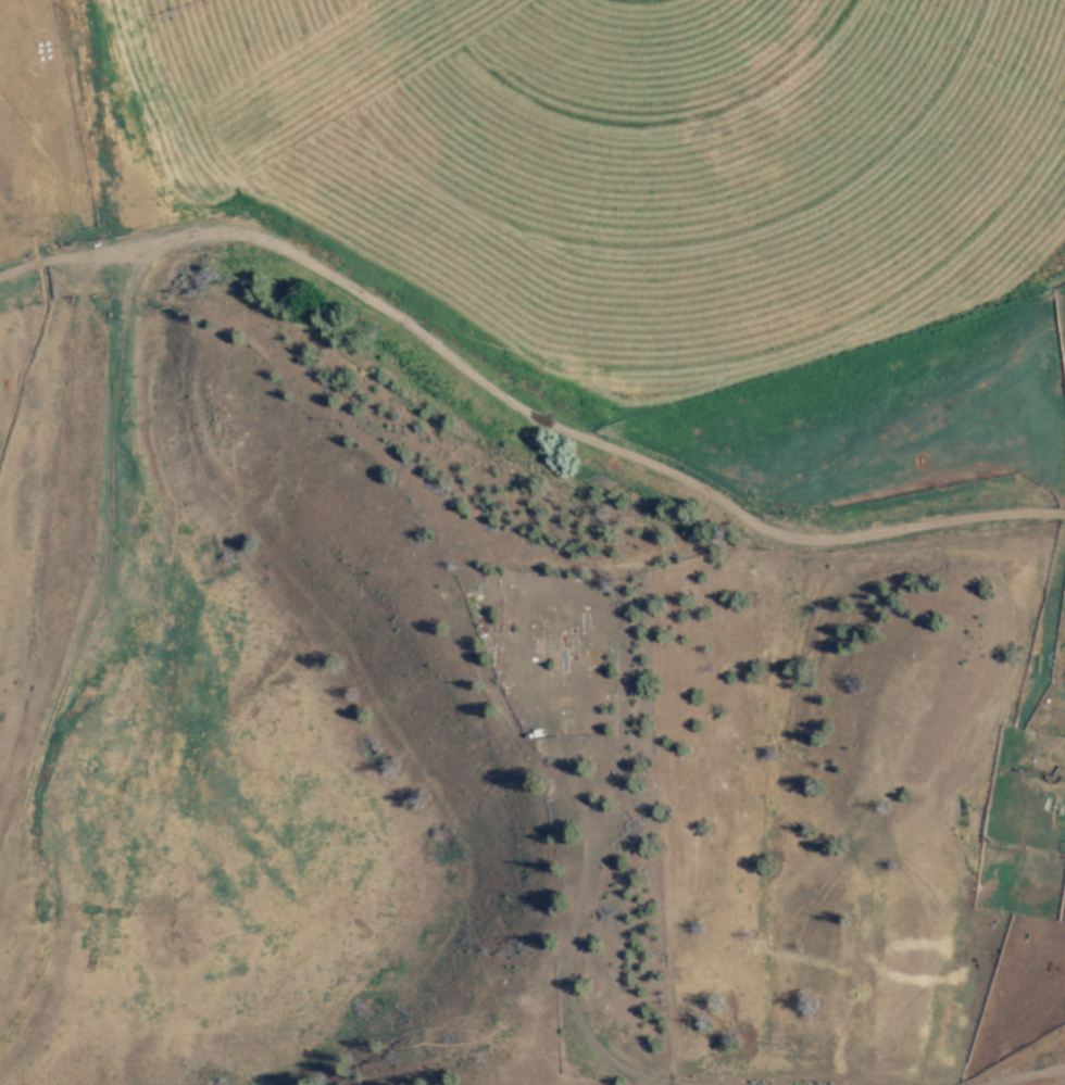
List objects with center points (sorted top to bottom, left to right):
road: (623, 475)
park: (544, 641)

